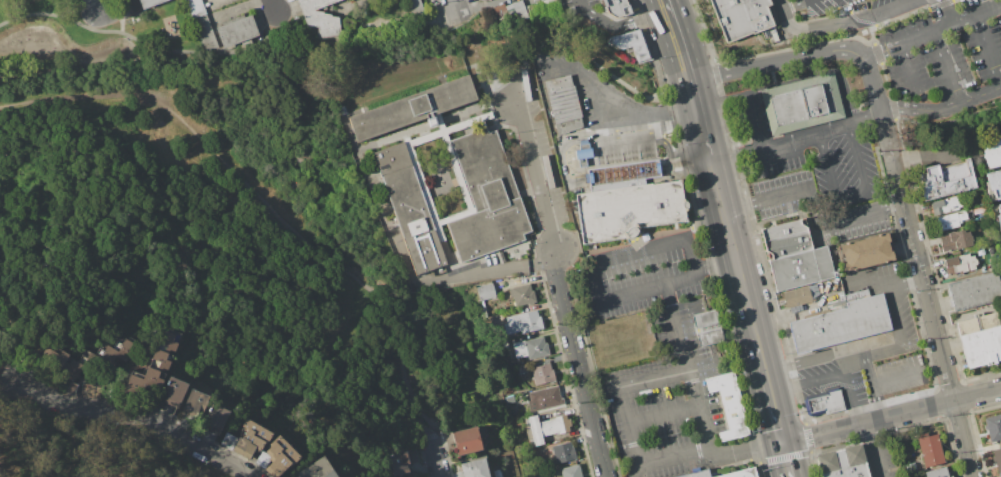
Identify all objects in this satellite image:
building: (534, 0)
building: (149, 3)
parking lot: (576, 3)
road: (833, 3)
road: (101, 4)
road: (581, 4)
road: (940, 4)
road: (797, 5)
parking lot: (817, 5)
road: (273, 6)
building: (415, 6)
building: (616, 7)
parking lot: (892, 7)
building: (196, 8)
road: (459, 8)
building: (542, 8)
road: (680, 8)
building: (509, 10)
road: (841, 12)
road: (945, 13)
road: (116, 17)
building: (320, 18)
building: (744, 18)
road: (891, 19)
road: (861, 21)
road: (618, 22)
road: (841, 24)
road: (280, 30)
road: (662, 30)
building: (205, 31)
building: (237, 31)
road: (932, 34)
road: (691, 37)
road: (549, 44)
building: (632, 44)
park: (91, 47)
road: (989, 47)
parking lot: (944, 50)
road: (230, 52)
road: (812, 54)
road: (952, 68)
road: (908, 69)
road: (819, 76)
road: (885, 80)
road: (586, 84)
building: (564, 104)
building: (802, 104)
road: (709, 105)
building: (412, 108)
road: (686, 109)
road: (941, 109)
road: (699, 113)
road: (653, 121)
road: (757, 121)
road: (942, 124)
road: (802, 137)
road: (655, 138)
road: (198, 139)
road: (567, 144)
building: (583, 153)
parking lot: (813, 153)
building: (992, 154)
road: (722, 155)
road: (699, 161)
road: (681, 162)
road: (711, 162)
road: (661, 167)
road: (536, 170)
road: (622, 173)
building: (621, 175)
building: (947, 180)
road: (189, 184)
building: (994, 185)
parking lot: (786, 196)
road: (852, 196)
building: (487, 197)
road: (773, 199)
building: (944, 206)
building: (410, 208)
road: (734, 208)
building: (628, 210)
road: (871, 211)
road: (712, 214)
building: (997, 215)
building: (951, 220)
road: (116, 224)
park: (263, 234)
building: (786, 238)
road: (687, 241)
building: (955, 241)
building: (864, 253)
road: (917, 257)
building: (960, 263)
road: (716, 265)
building: (801, 269)
road: (493, 270)
park: (85, 282)
road: (885, 286)
building: (486, 292)
building: (975, 293)
building: (522, 295)
building: (800, 295)
road: (746, 299)
building: (837, 304)
road: (895, 312)
building: (706, 319)
building: (523, 323)
building: (841, 324)
road: (674, 328)
building: (170, 335)
building: (710, 337)
building: (980, 339)
building: (164, 344)
building: (504, 344)
building: (124, 346)
building: (531, 348)
building: (106, 355)
road: (834, 355)
building: (159, 357)
building: (84, 358)
road: (578, 362)
road: (15, 363)
building: (61, 363)
road: (762, 366)
road: (844, 366)
building: (522, 369)
building: (154, 371)
road: (408, 373)
building: (542, 375)
road: (656, 376)
road: (833, 377)
road: (895, 379)
building: (139, 385)
road: (874, 385)
building: (175, 392)
building: (544, 399)
building: (824, 403)
building: (195, 404)
building: (729, 404)
road: (700, 410)
road: (665, 414)
road: (892, 416)
road: (137, 417)
building: (219, 418)
road: (776, 418)
building: (543, 423)
road: (631, 425)
building: (993, 428)
building: (546, 434)
road: (962, 438)
building: (247, 439)
building: (467, 441)
traffic signals: (783, 444)
park: (85, 447)
road: (876, 449)
building: (930, 450)
road: (747, 451)
road: (784, 451)
building: (563, 453)
building: (278, 457)
road: (435, 458)
road: (669, 458)
parking lot: (882, 458)
building: (997, 458)
building: (399, 463)
building: (845, 463)
building: (910, 466)
building: (313, 468)
building: (475, 468)
road: (788, 468)
building: (571, 471)
building: (740, 473)
building: (936, 473)
building: (328, 474)
building: (697, 474)

